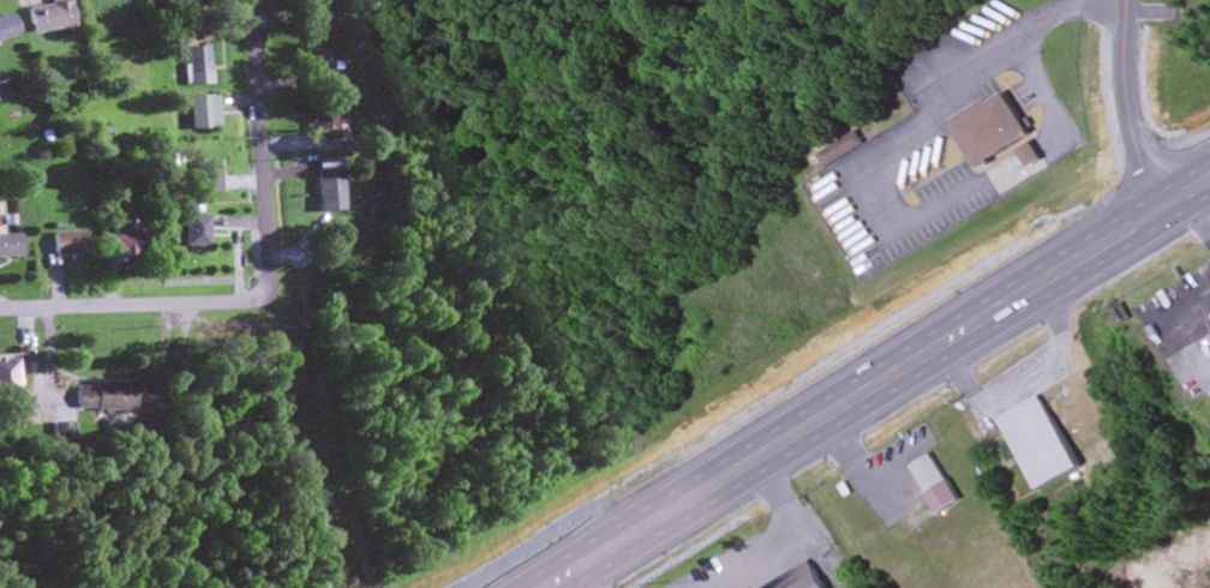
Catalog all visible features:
building: (170, 2)
building: (103, 11)
building: (317, 12)
building: (46, 16)
building: (5, 25)
building: (317, 61)
building: (192, 65)
building: (4, 90)
road: (1127, 107)
building: (197, 113)
building: (323, 124)
building: (992, 125)
building: (839, 149)
road: (262, 150)
building: (1029, 154)
building: (200, 179)
building: (324, 186)
building: (188, 230)
building: (120, 236)
building: (62, 244)
building: (7, 246)
road: (133, 304)
building: (1209, 335)
building: (5, 373)
road: (876, 383)
building: (96, 395)
building: (1040, 442)
building: (935, 482)
building: (801, 578)

